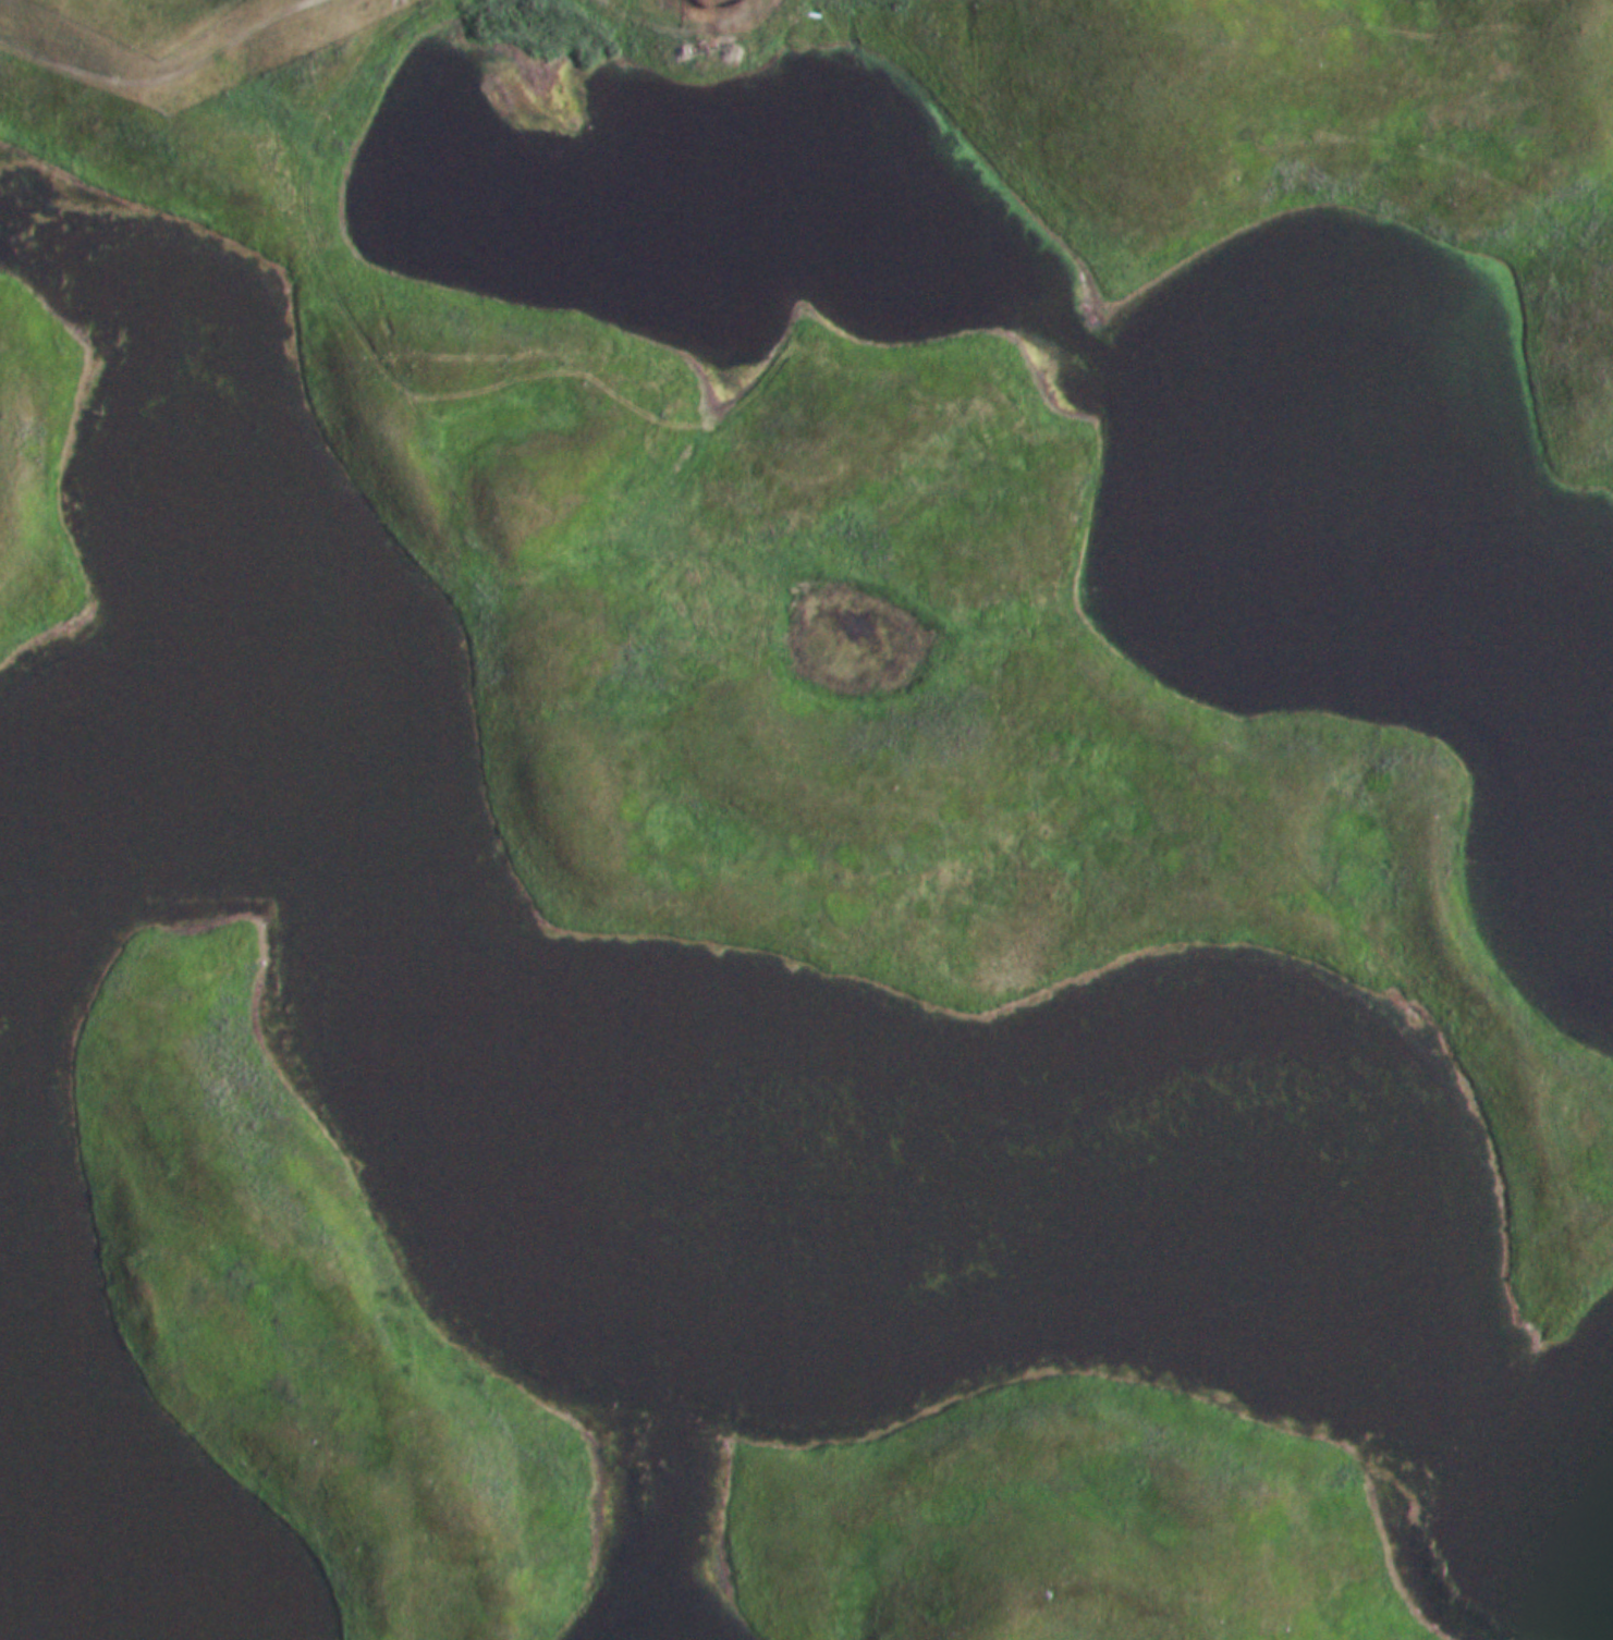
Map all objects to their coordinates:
road: (160, 82)

